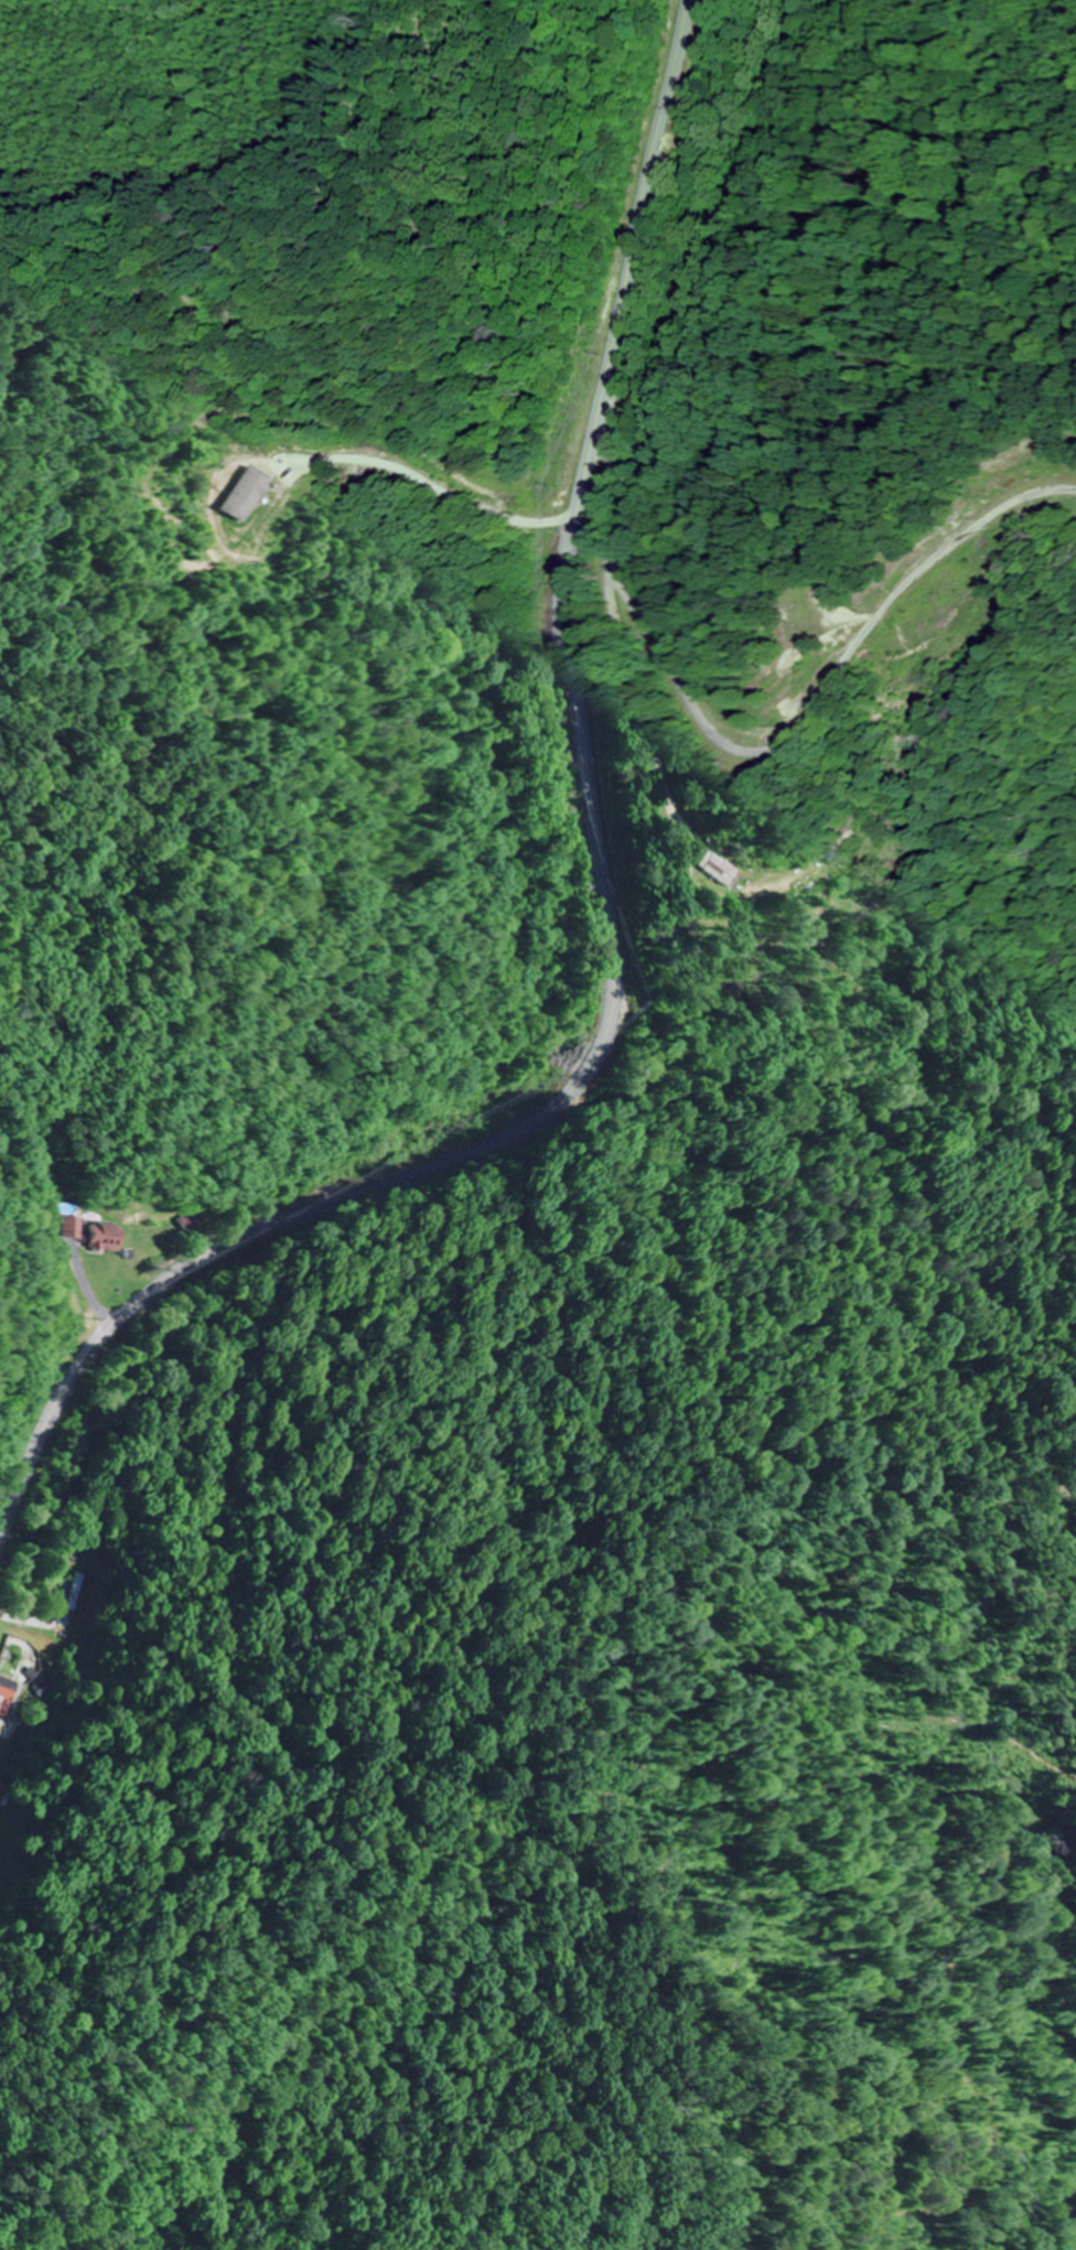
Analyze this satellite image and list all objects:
building: (252, 484)
building: (718, 868)
road: (603, 913)
building: (191, 1219)
building: (77, 1227)
building: (108, 1236)
building: (8, 1697)

